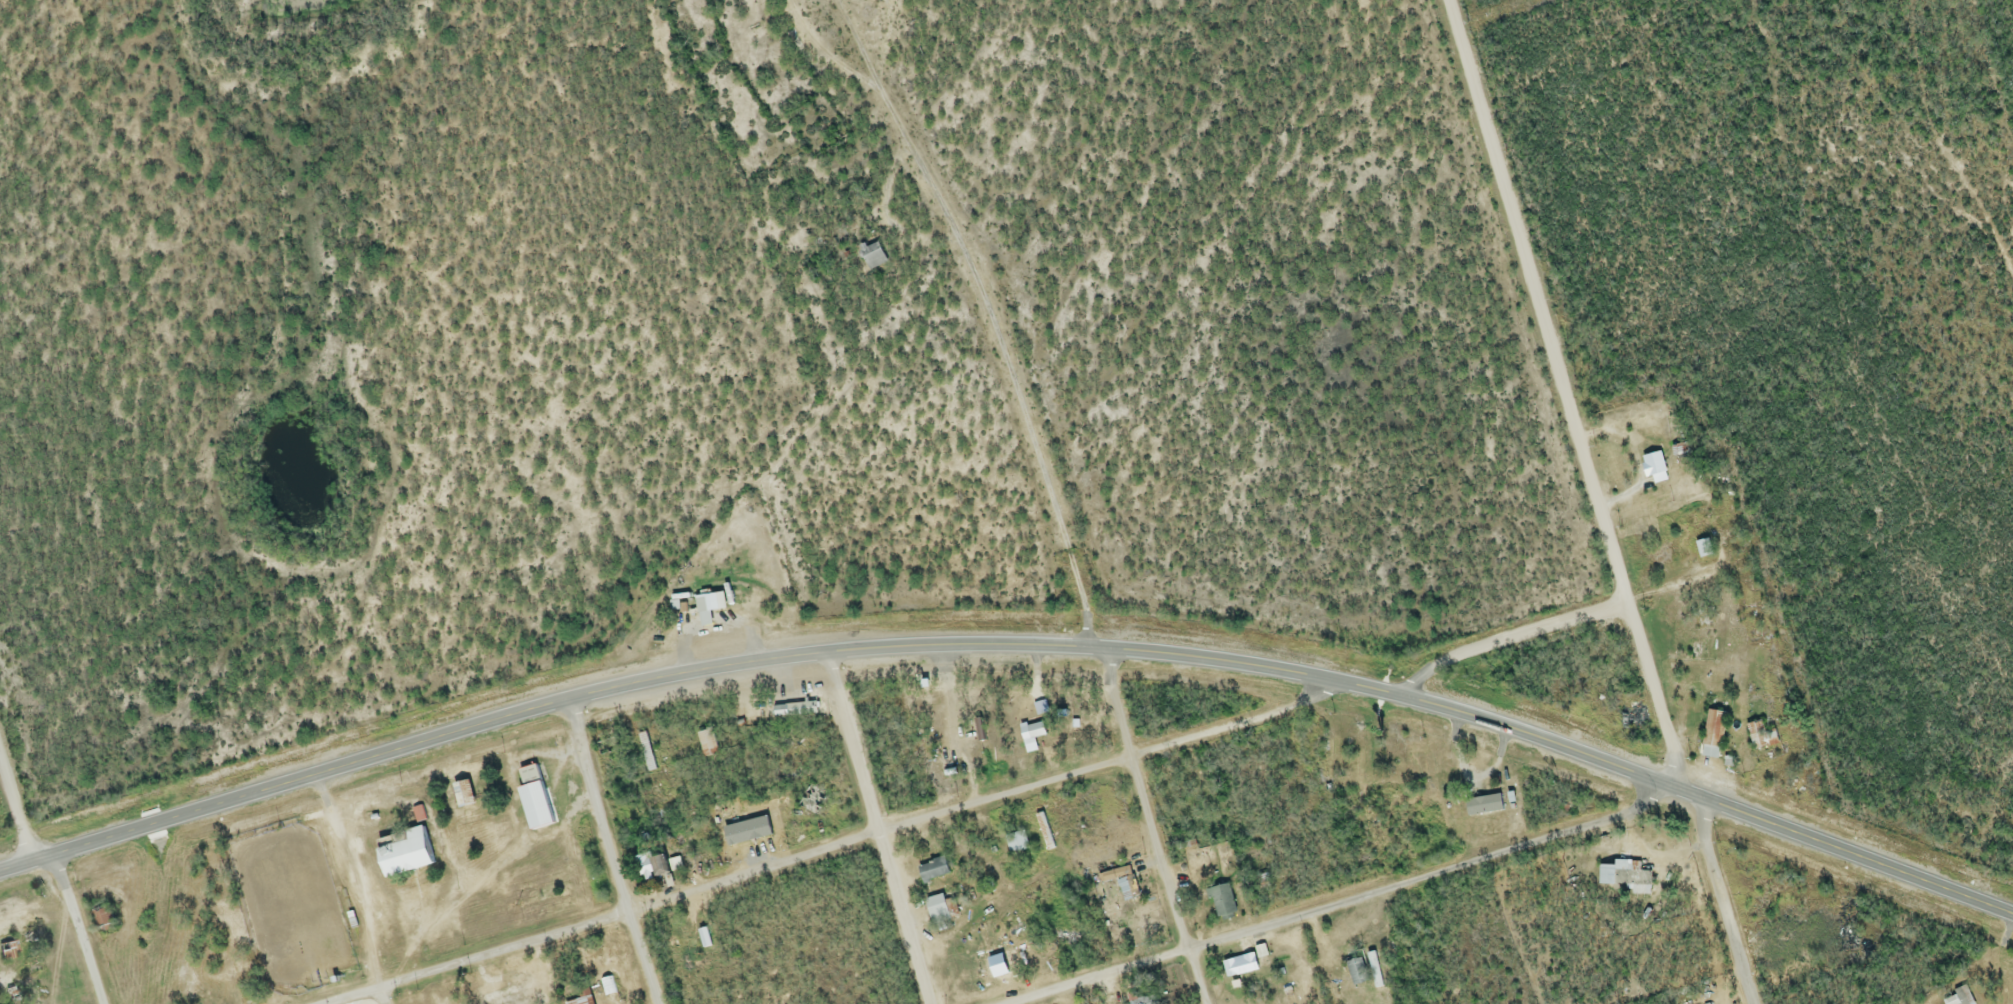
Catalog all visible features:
road: (880, 14)
building: (870, 257)
building: (1652, 466)
road: (1594, 501)
road: (1049, 507)
building: (706, 608)
road: (1505, 638)
road: (1433, 707)
building: (1040, 710)
building: (793, 712)
building: (1636, 717)
building: (1032, 733)
building: (1712, 736)
building: (1760, 737)
road: (408, 747)
building: (645, 753)
building: (461, 795)
building: (1482, 807)
road: (17, 815)
road: (876, 828)
building: (1015, 843)
road: (831, 849)
building: (399, 852)
road: (610, 852)
building: (650, 866)
building: (931, 871)
building: (1604, 876)
building: (1634, 882)
building: (1126, 885)
road: (1357, 897)
building: (1221, 903)
building: (939, 910)
road: (76, 929)
building: (1048, 952)
building: (1238, 967)
building: (1373, 971)
building: (1355, 972)
building: (513, 987)
road: (380, 995)
building: (1958, 996)
building: (576, 997)
building: (1141, 1001)

